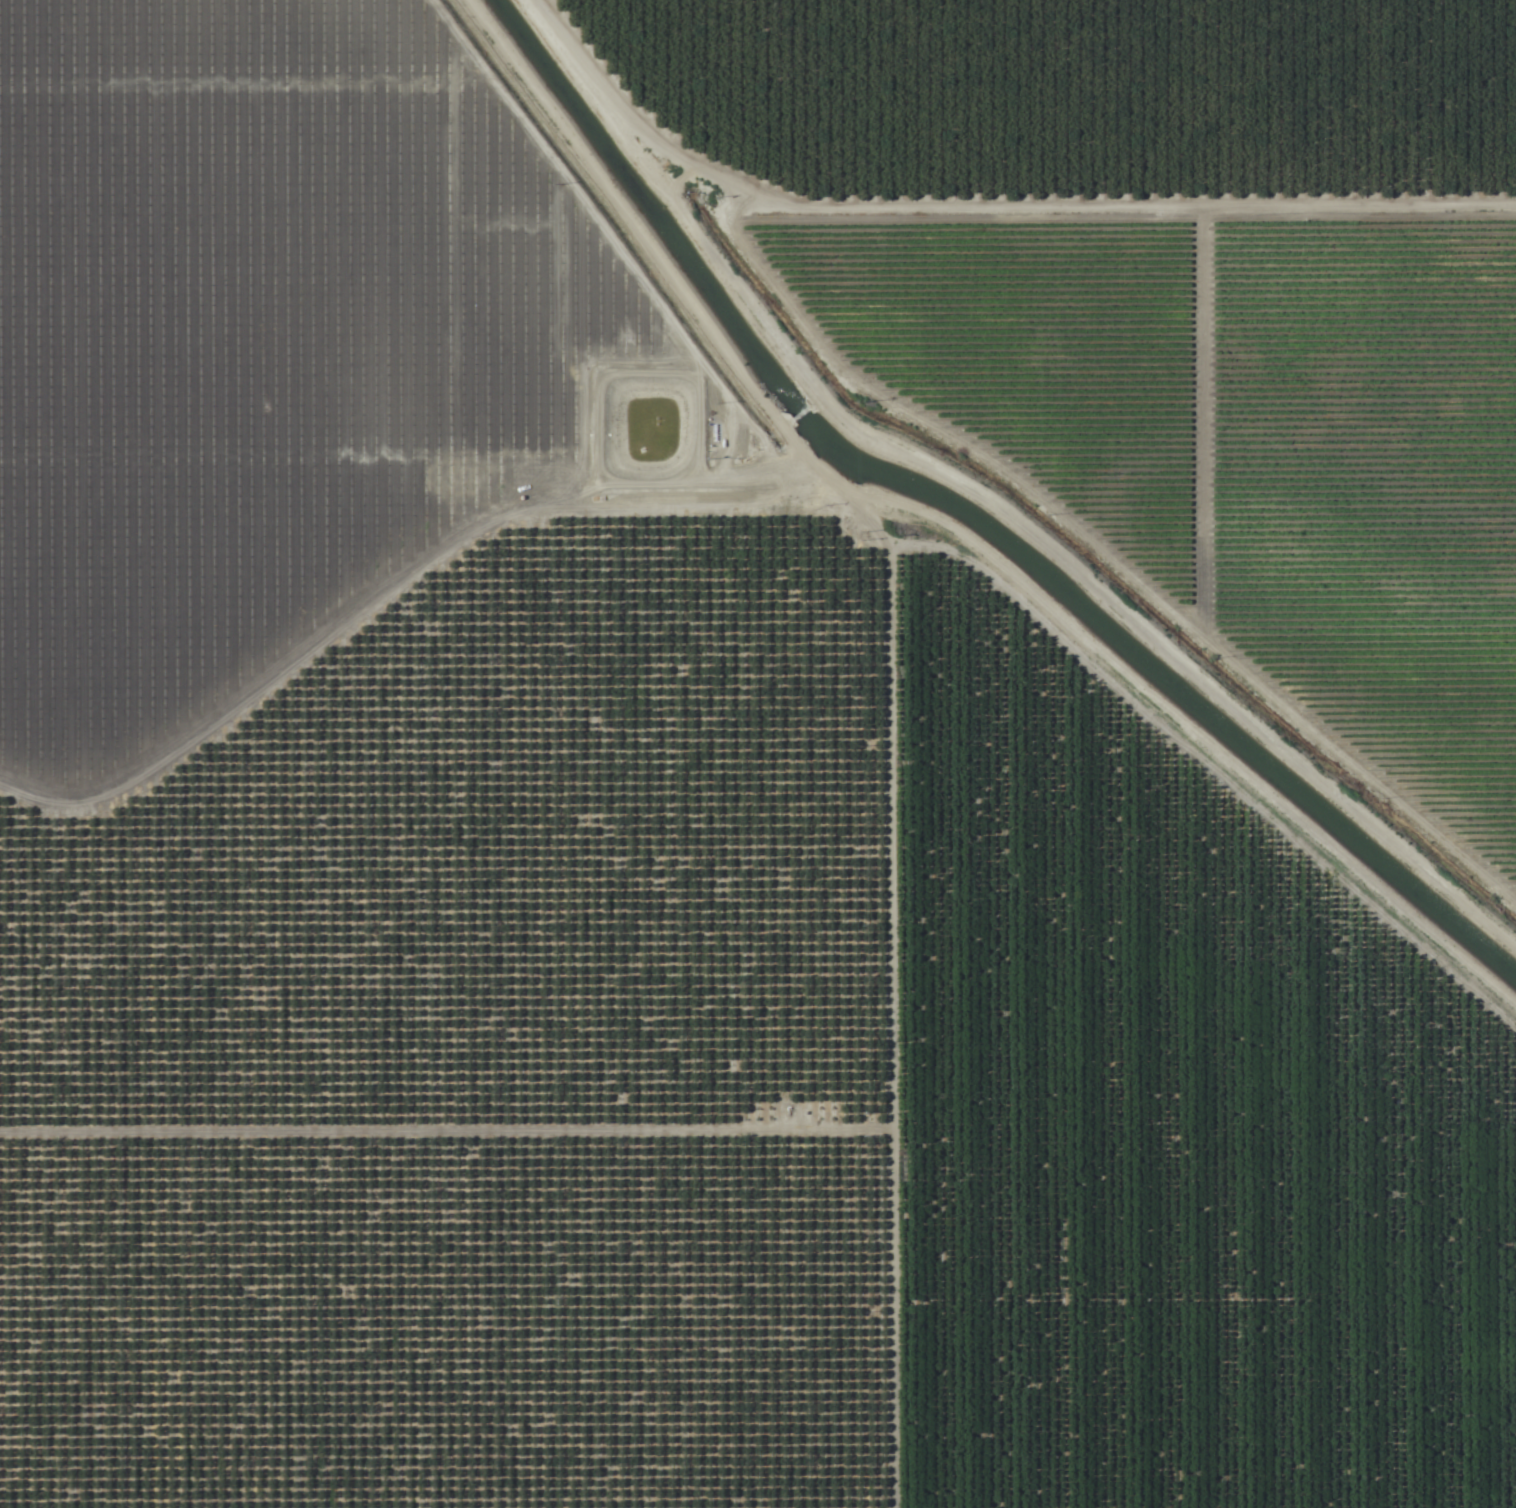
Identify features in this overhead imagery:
road: (945, 521)
crop: (758, 754)
road: (887, 998)

